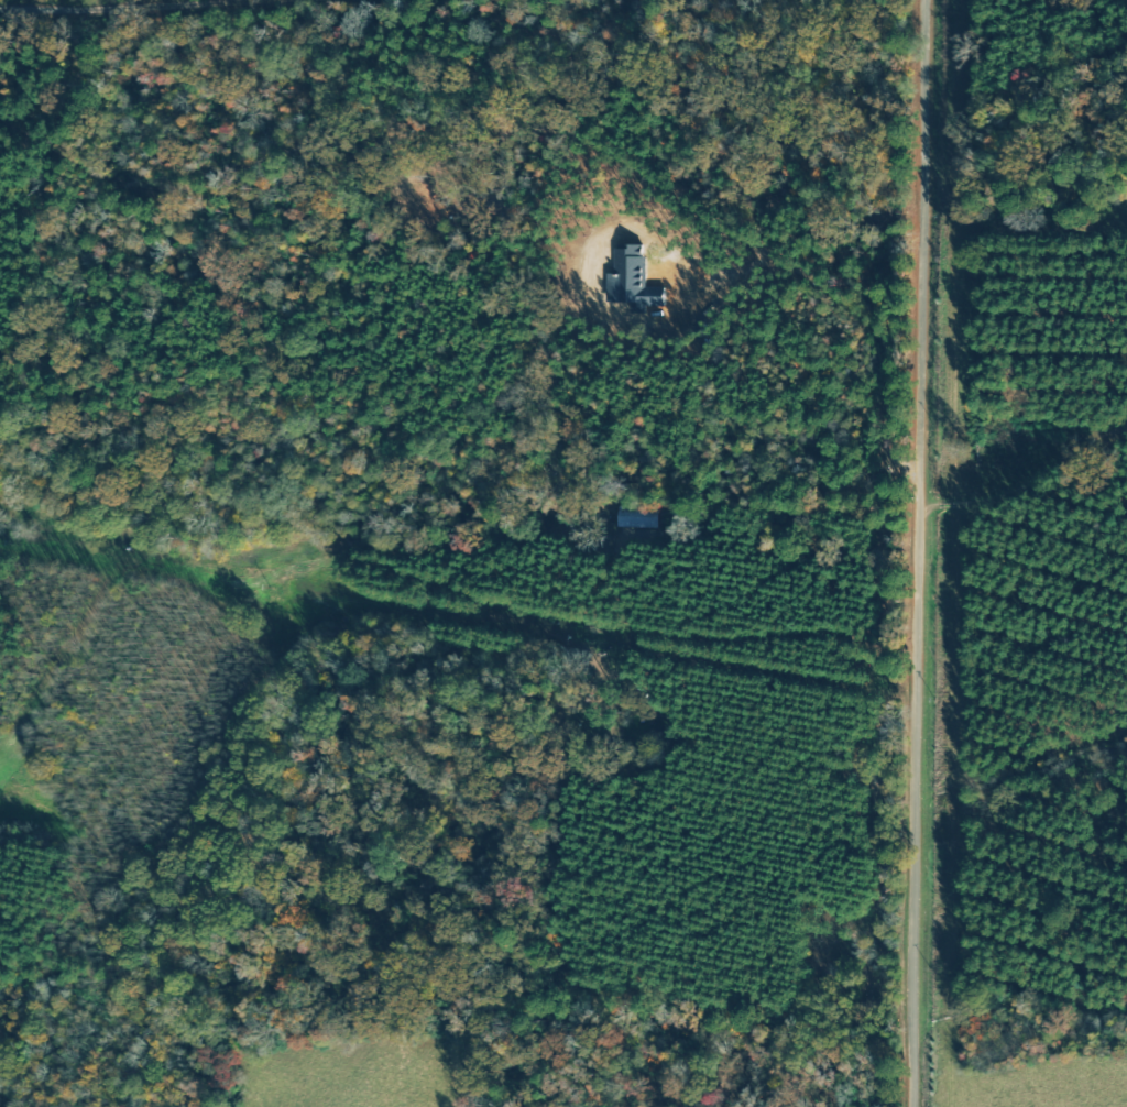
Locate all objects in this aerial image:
road: (567, 325)
road: (733, 453)
road: (1028, 496)
building: (636, 518)
road: (916, 552)
road: (857, 580)

